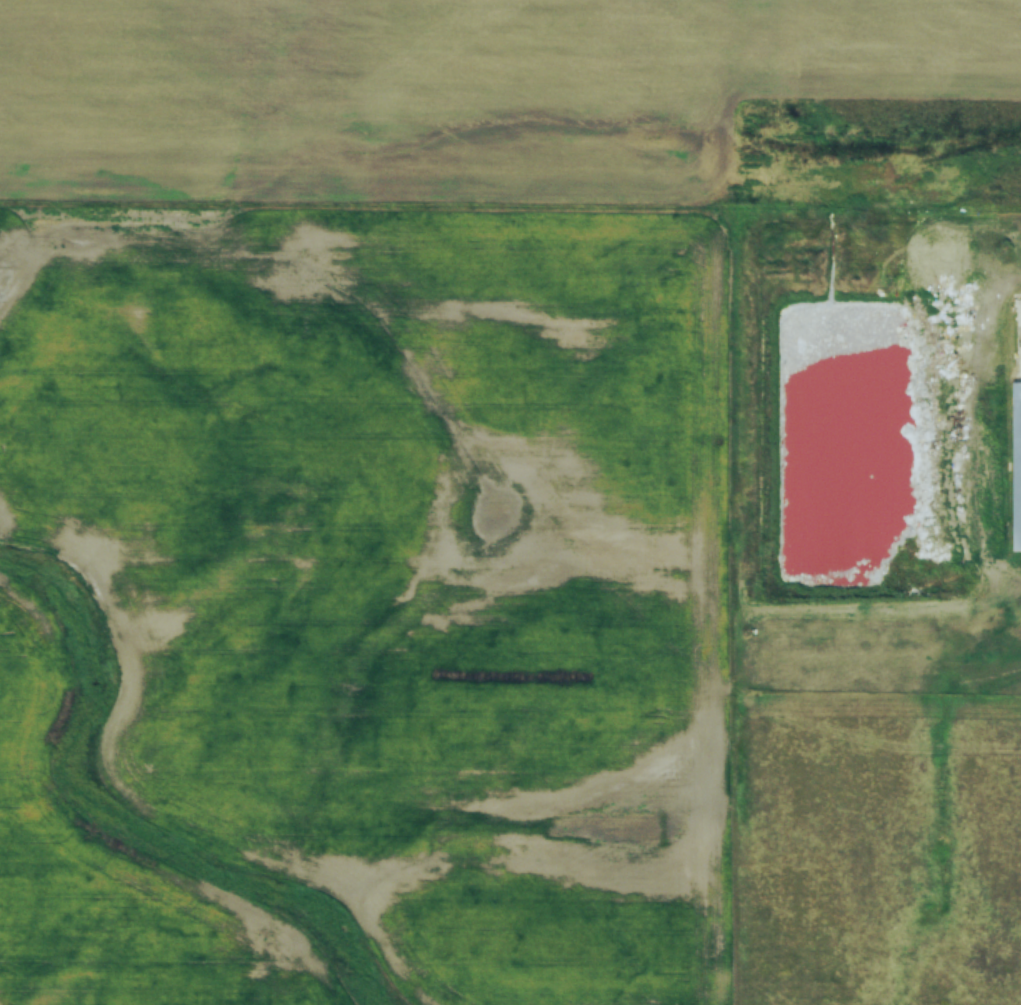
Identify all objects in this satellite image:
building: (1015, 420)

